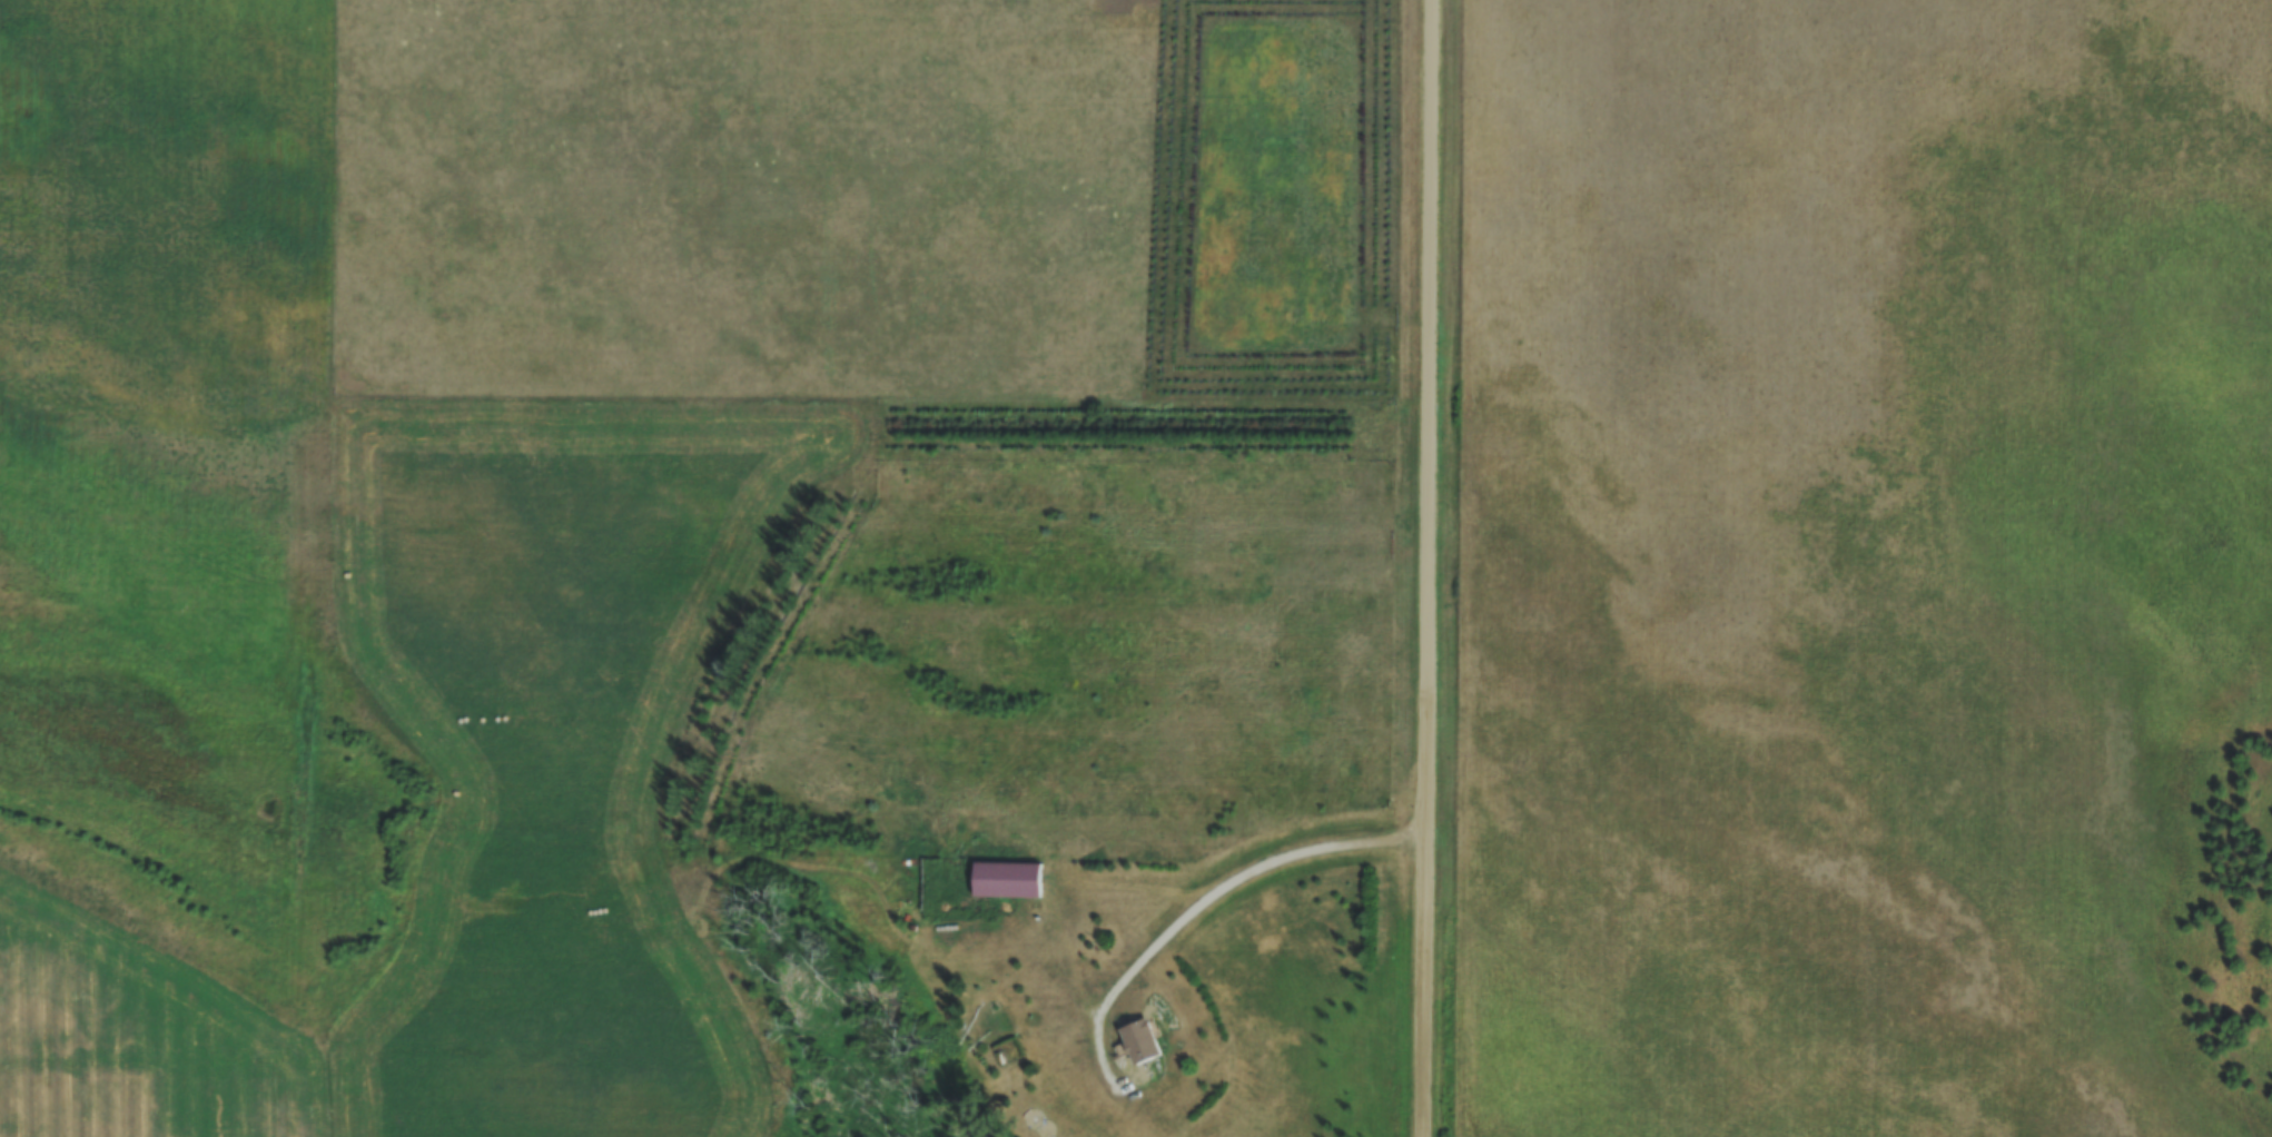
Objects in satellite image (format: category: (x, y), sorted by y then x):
road: (1426, 568)
building: (1007, 879)
road: (1215, 892)
building: (1142, 1040)

